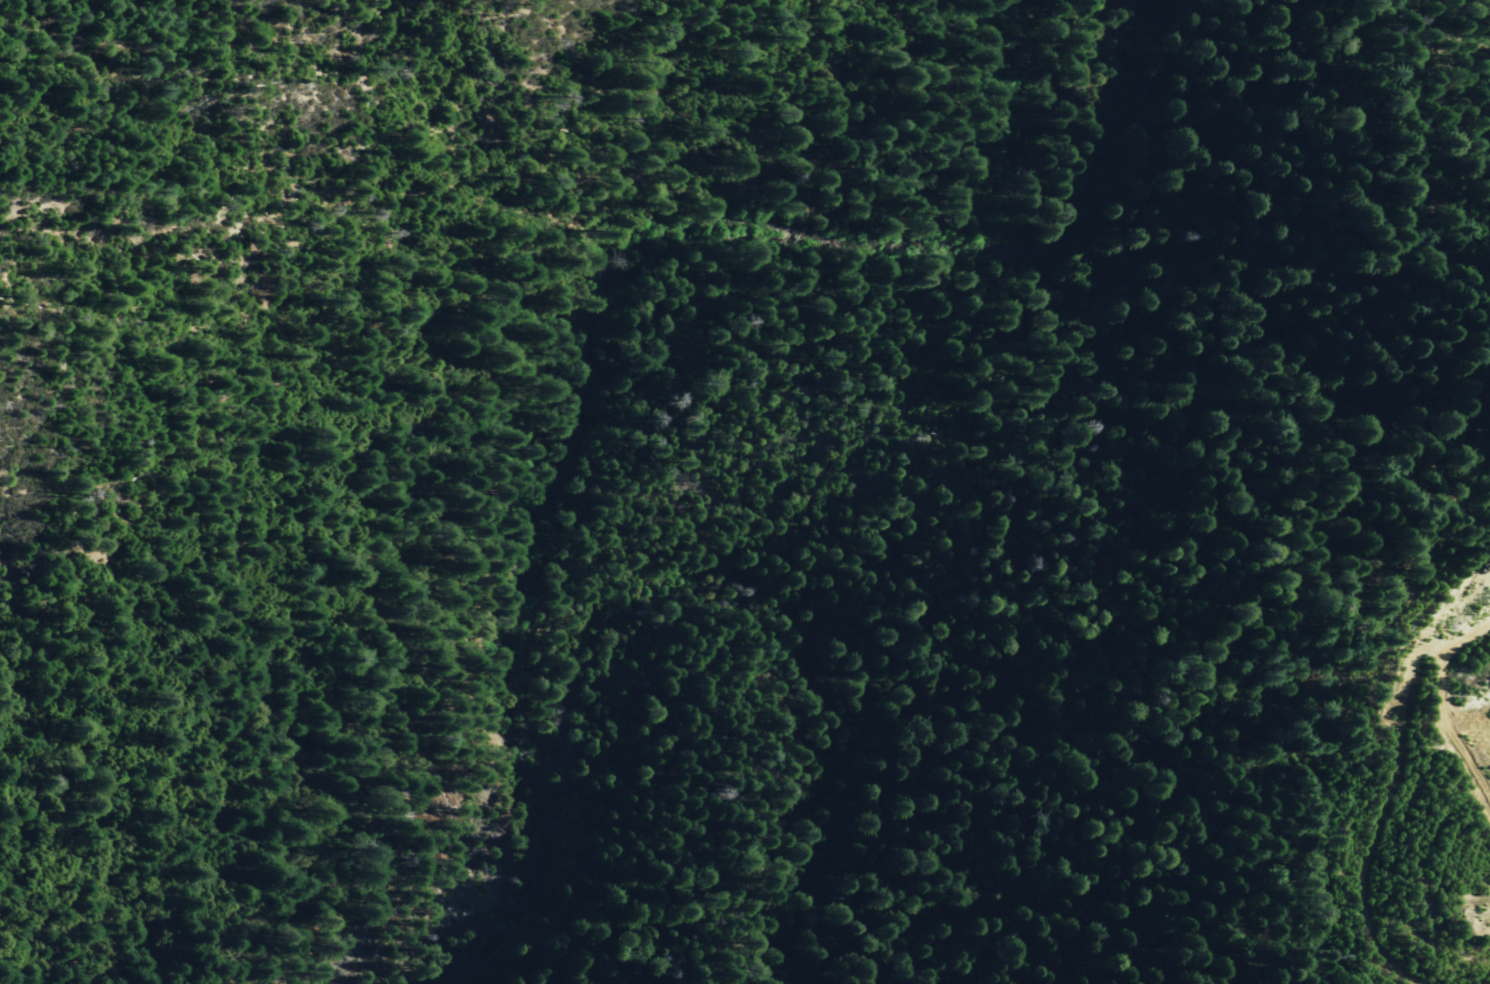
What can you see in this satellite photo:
road: (949, 18)
quarry: (1422, 788)

